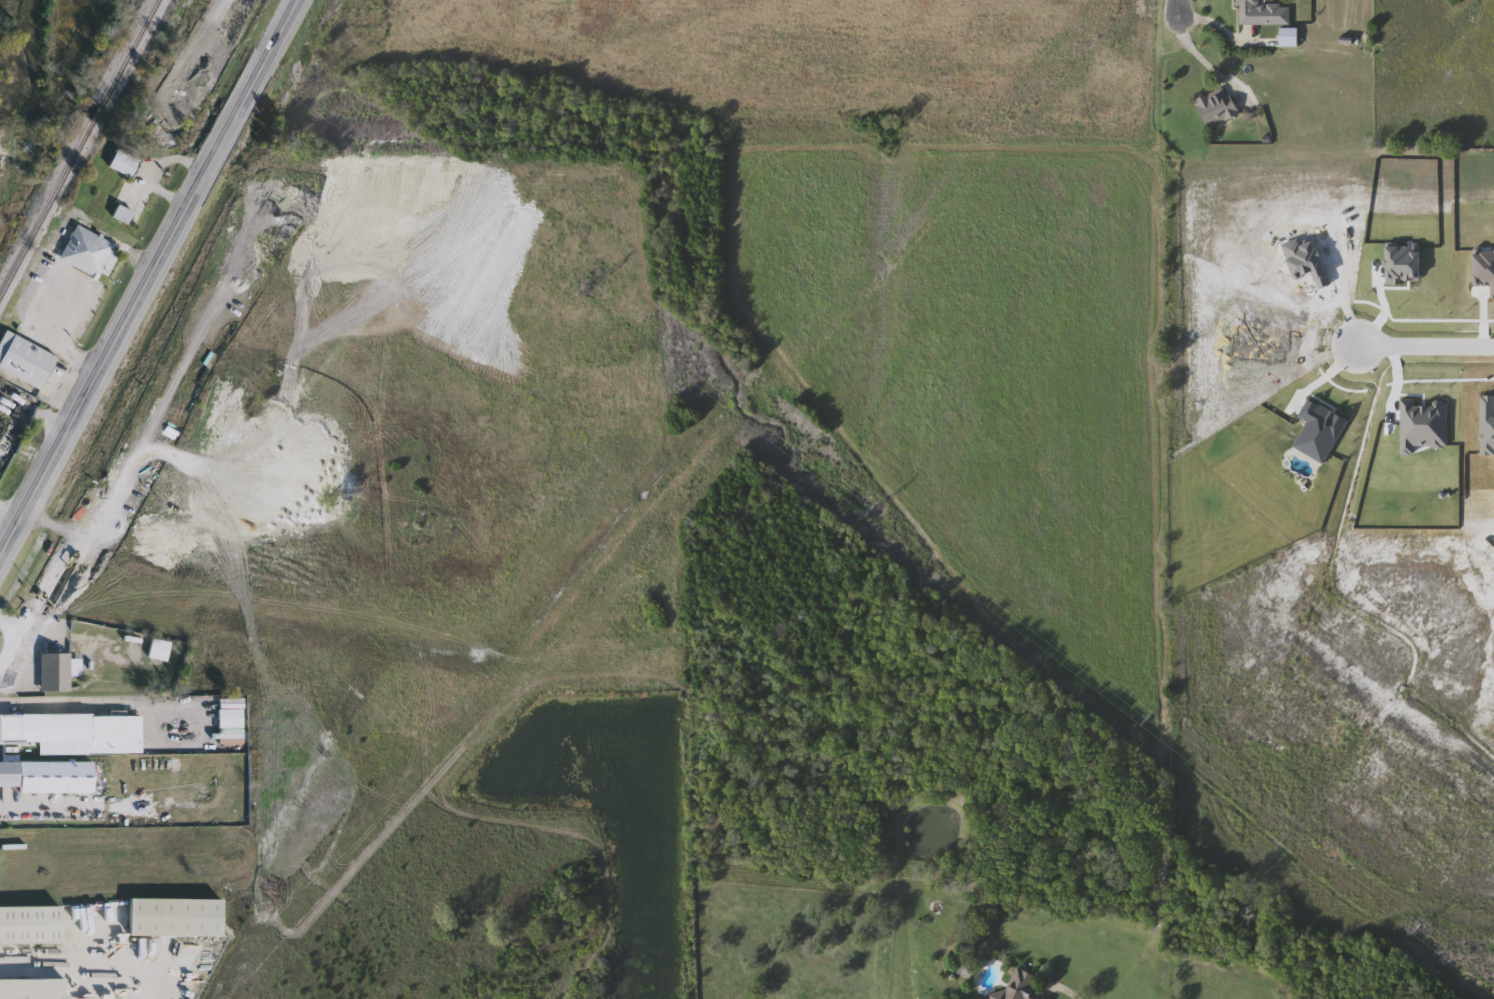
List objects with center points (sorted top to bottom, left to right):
road: (1180, 7)
building: (1252, 13)
road: (1205, 65)
power tower: (306, 88)
building: (1218, 108)
railway: (80, 147)
building: (125, 163)
railway: (119, 228)
building: (90, 252)
road: (148, 280)
power tower: (593, 291)
road: (1430, 344)
building: (25, 360)
road: (1329, 375)
power tower: (880, 510)
road: (25, 649)
building: (160, 649)
building: (57, 671)
power tower: (1154, 720)
building: (54, 727)
road: (42, 809)
building: (176, 917)
building: (30, 925)
power tower: (1420, 926)
building: (1022, 985)
road: (1058, 986)
building: (32, 989)
building: (995, 998)

